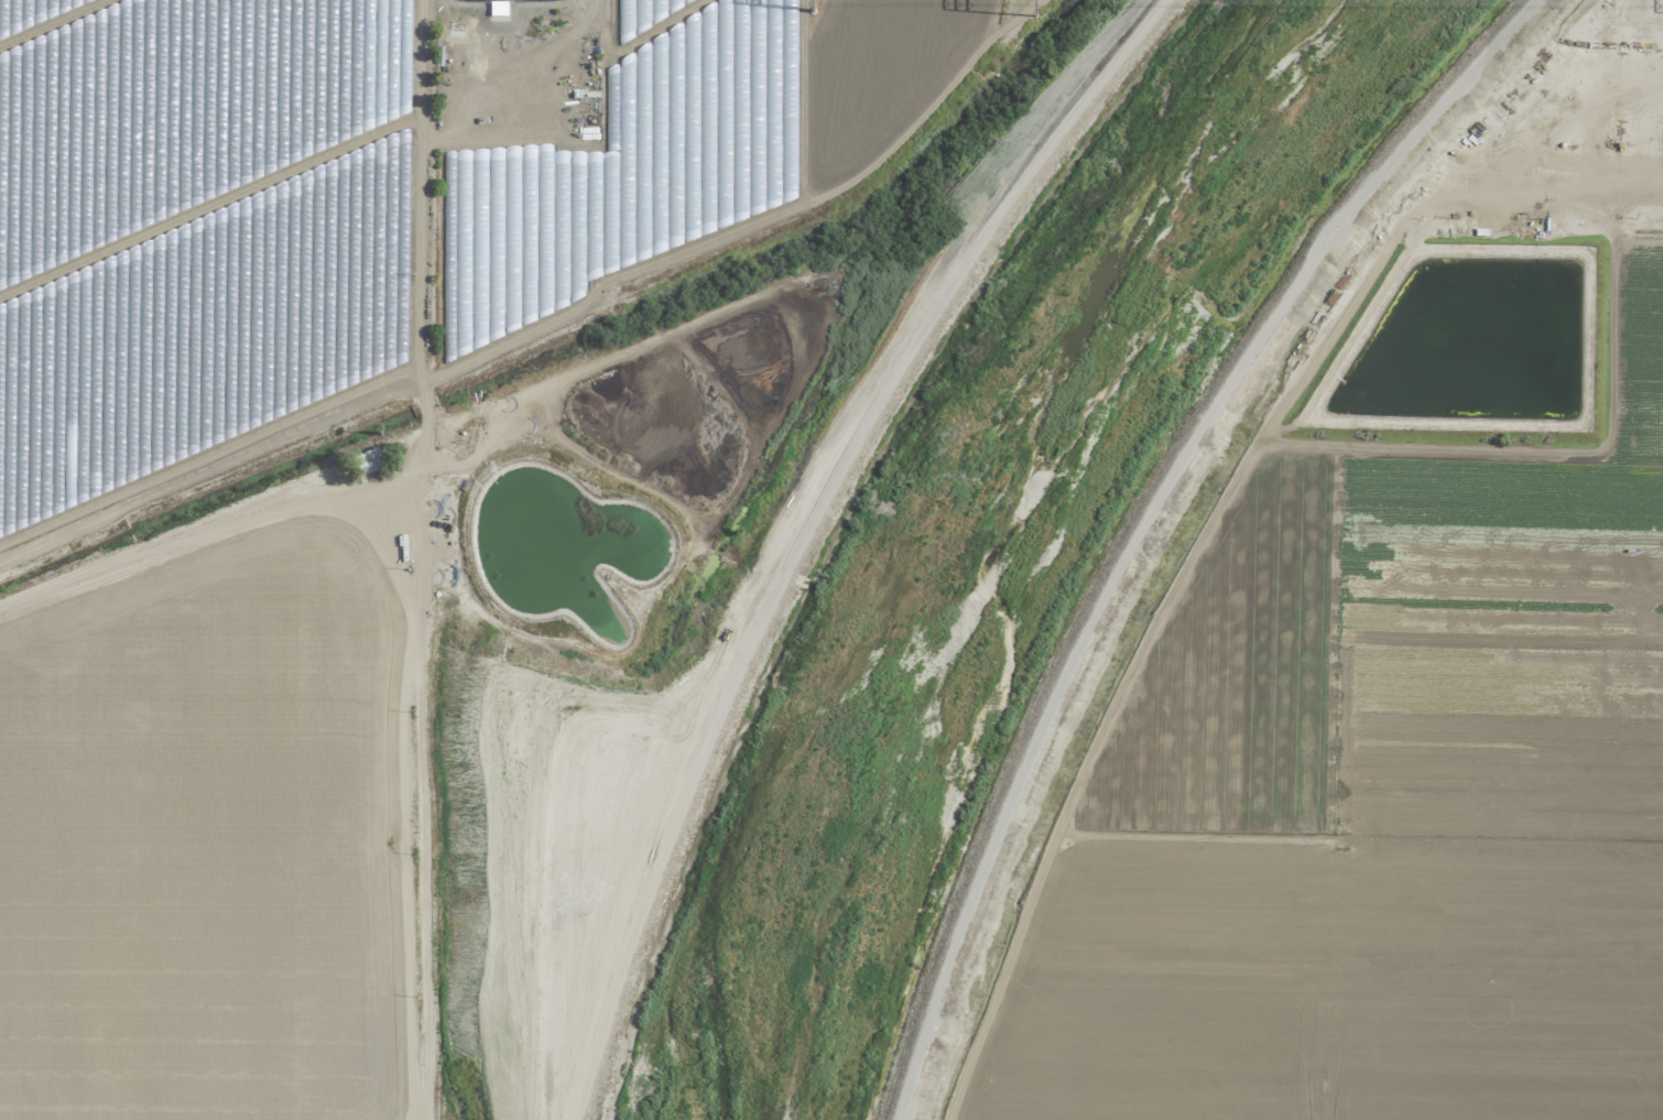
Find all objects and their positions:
power tower: (1032, 3)
power tower: (816, 6)
crop: (684, 143)
road: (420, 215)
road: (1491, 230)
crop: (191, 233)
road: (399, 438)
building: (368, 461)
road: (1143, 514)
river: (994, 522)
crop: (1407, 685)
crop: (403, 748)

